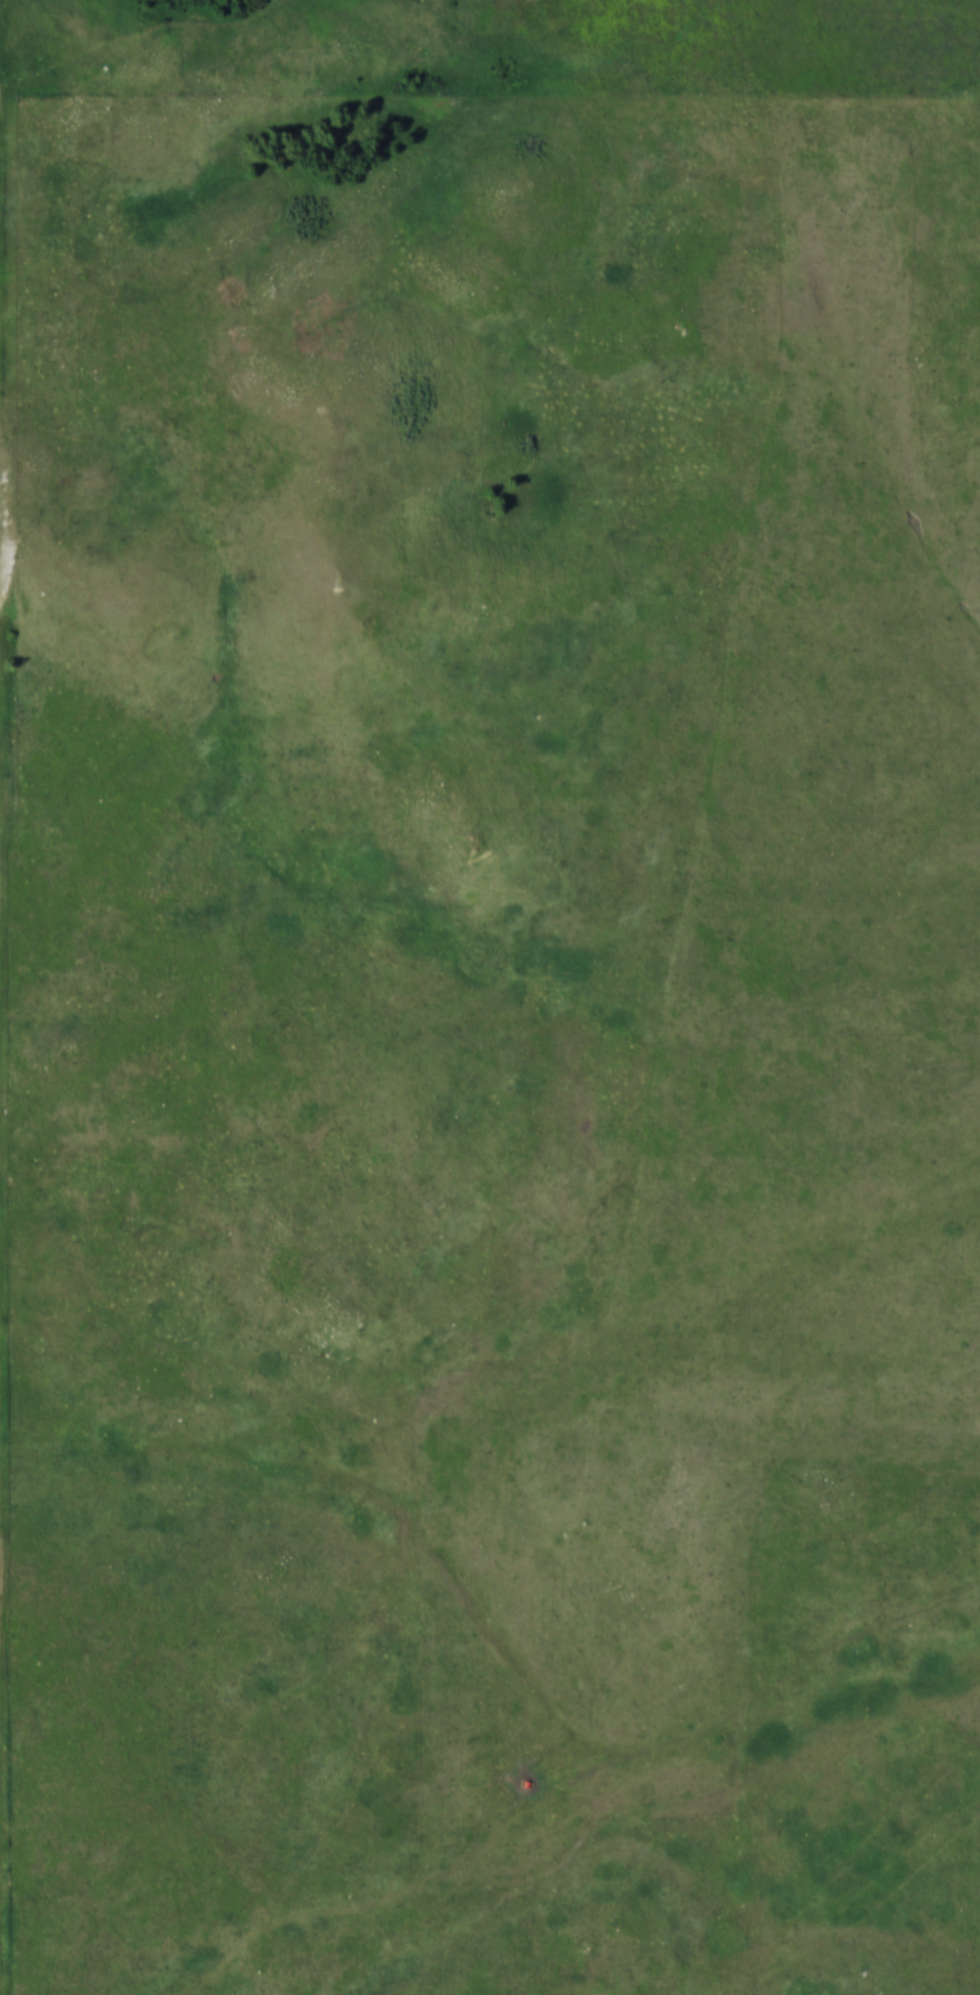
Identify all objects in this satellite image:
road: (3, 707)
road: (1, 925)

